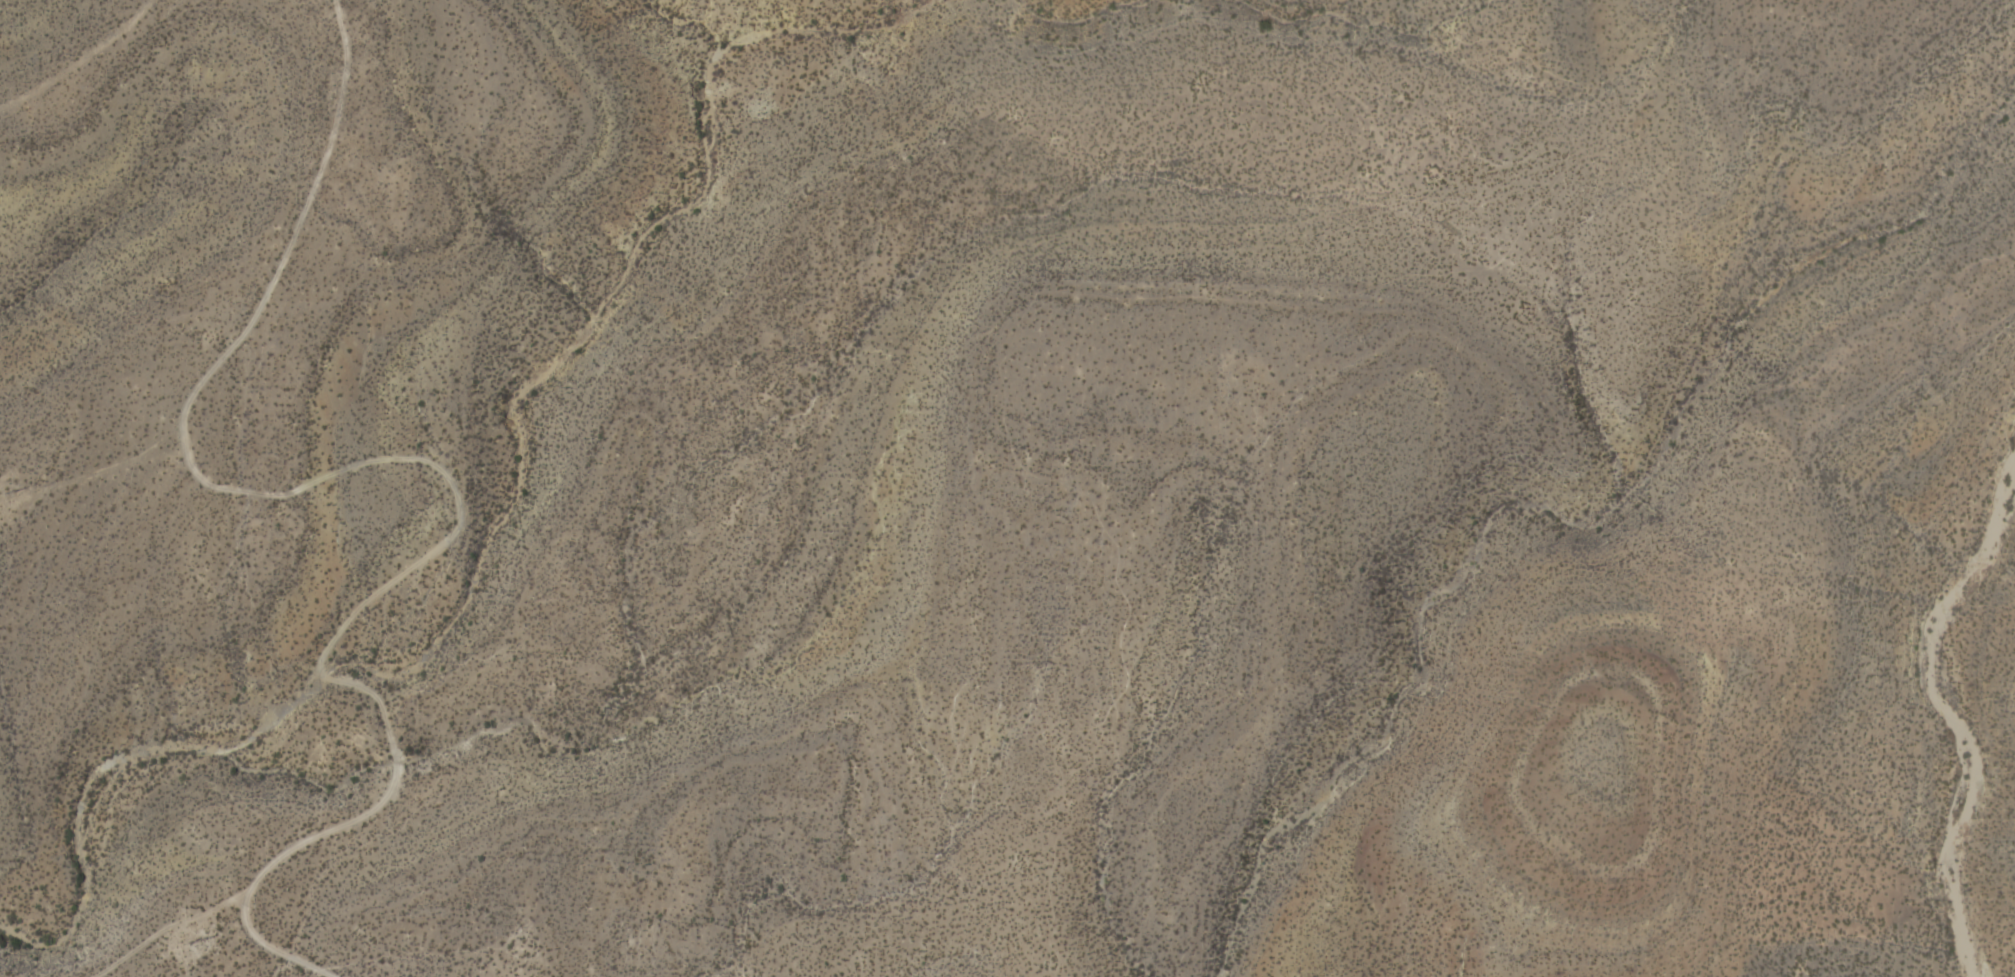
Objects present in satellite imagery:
road: (1070, 307)
road: (428, 458)

